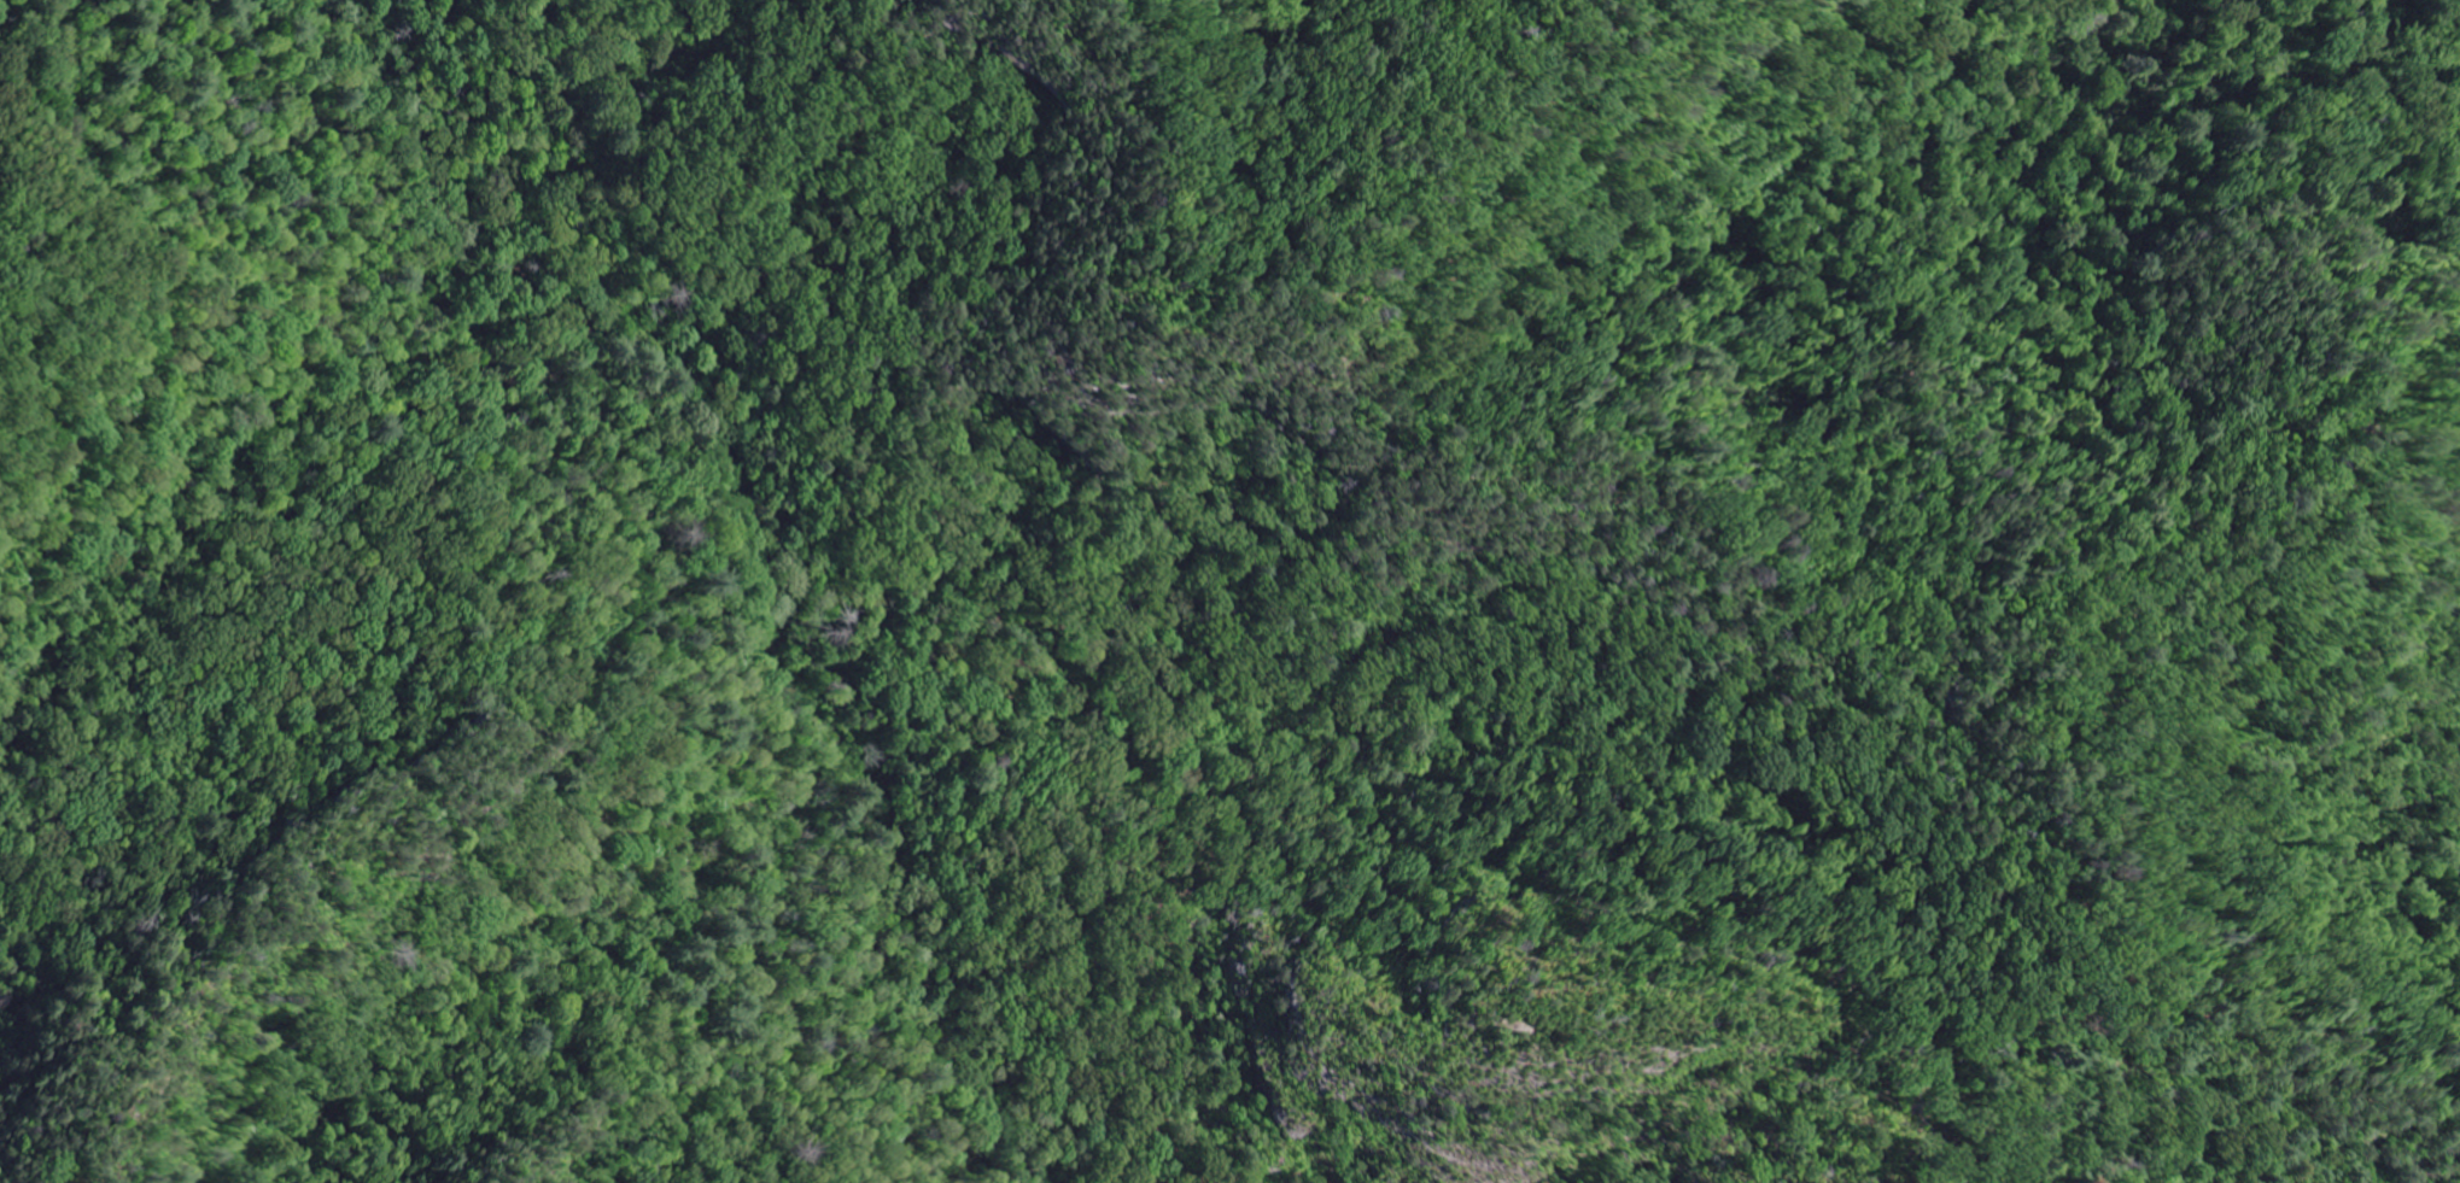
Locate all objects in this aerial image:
road: (2091, 587)
road: (1213, 631)
road: (1742, 1011)
road: (2324, 1077)
road: (1968, 1088)

